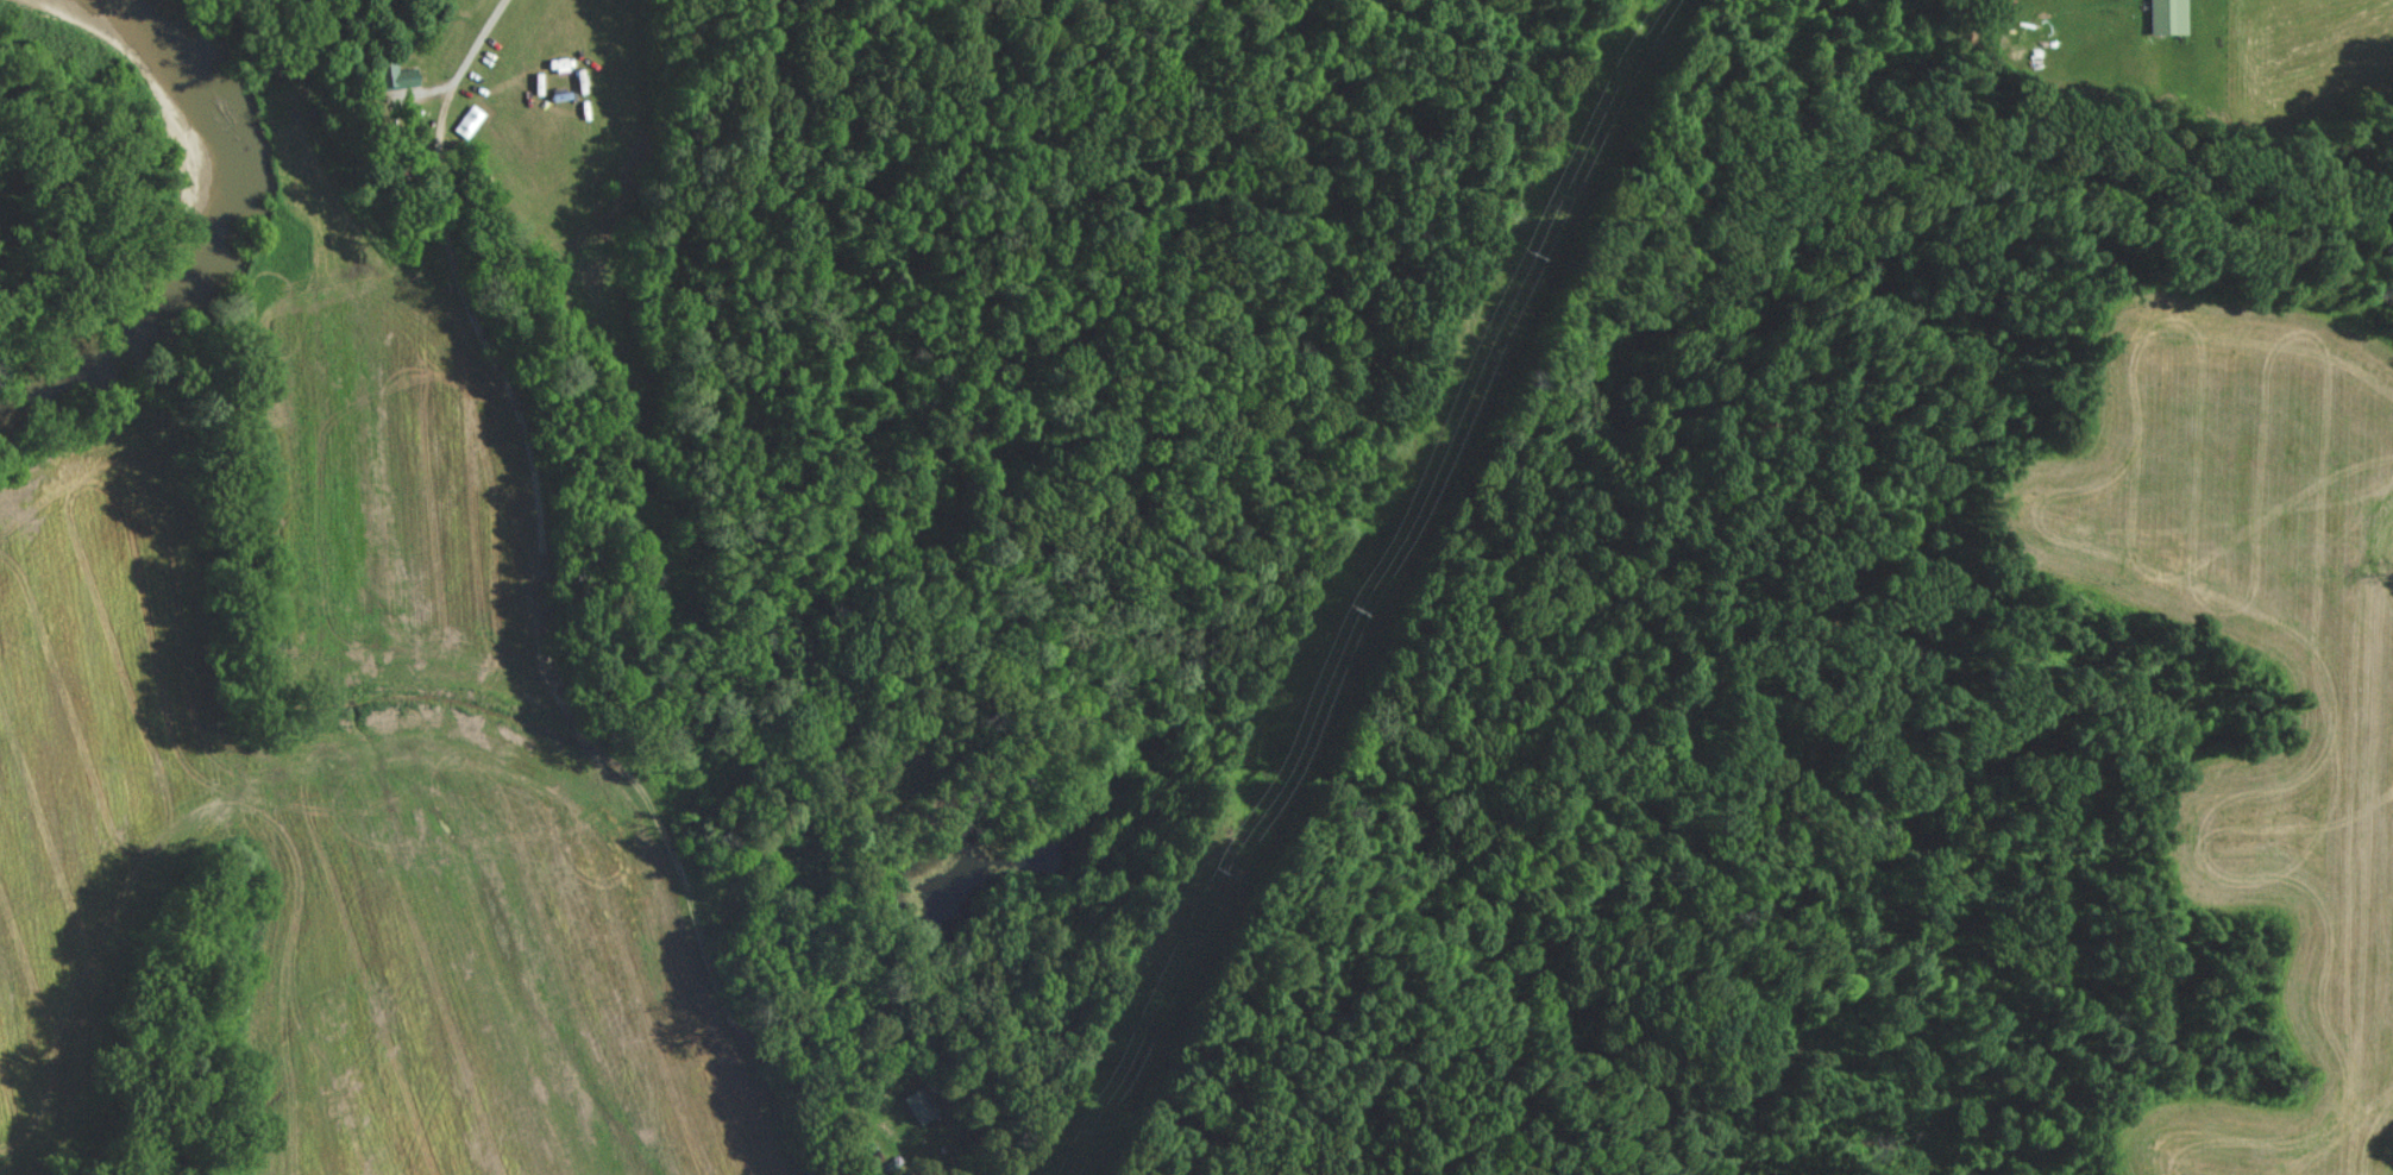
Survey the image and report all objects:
building: (2167, 15)
road: (477, 45)
building: (408, 76)
river: (231, 219)
power tower: (1526, 255)
power tower: (1353, 611)
building: (921, 1104)

